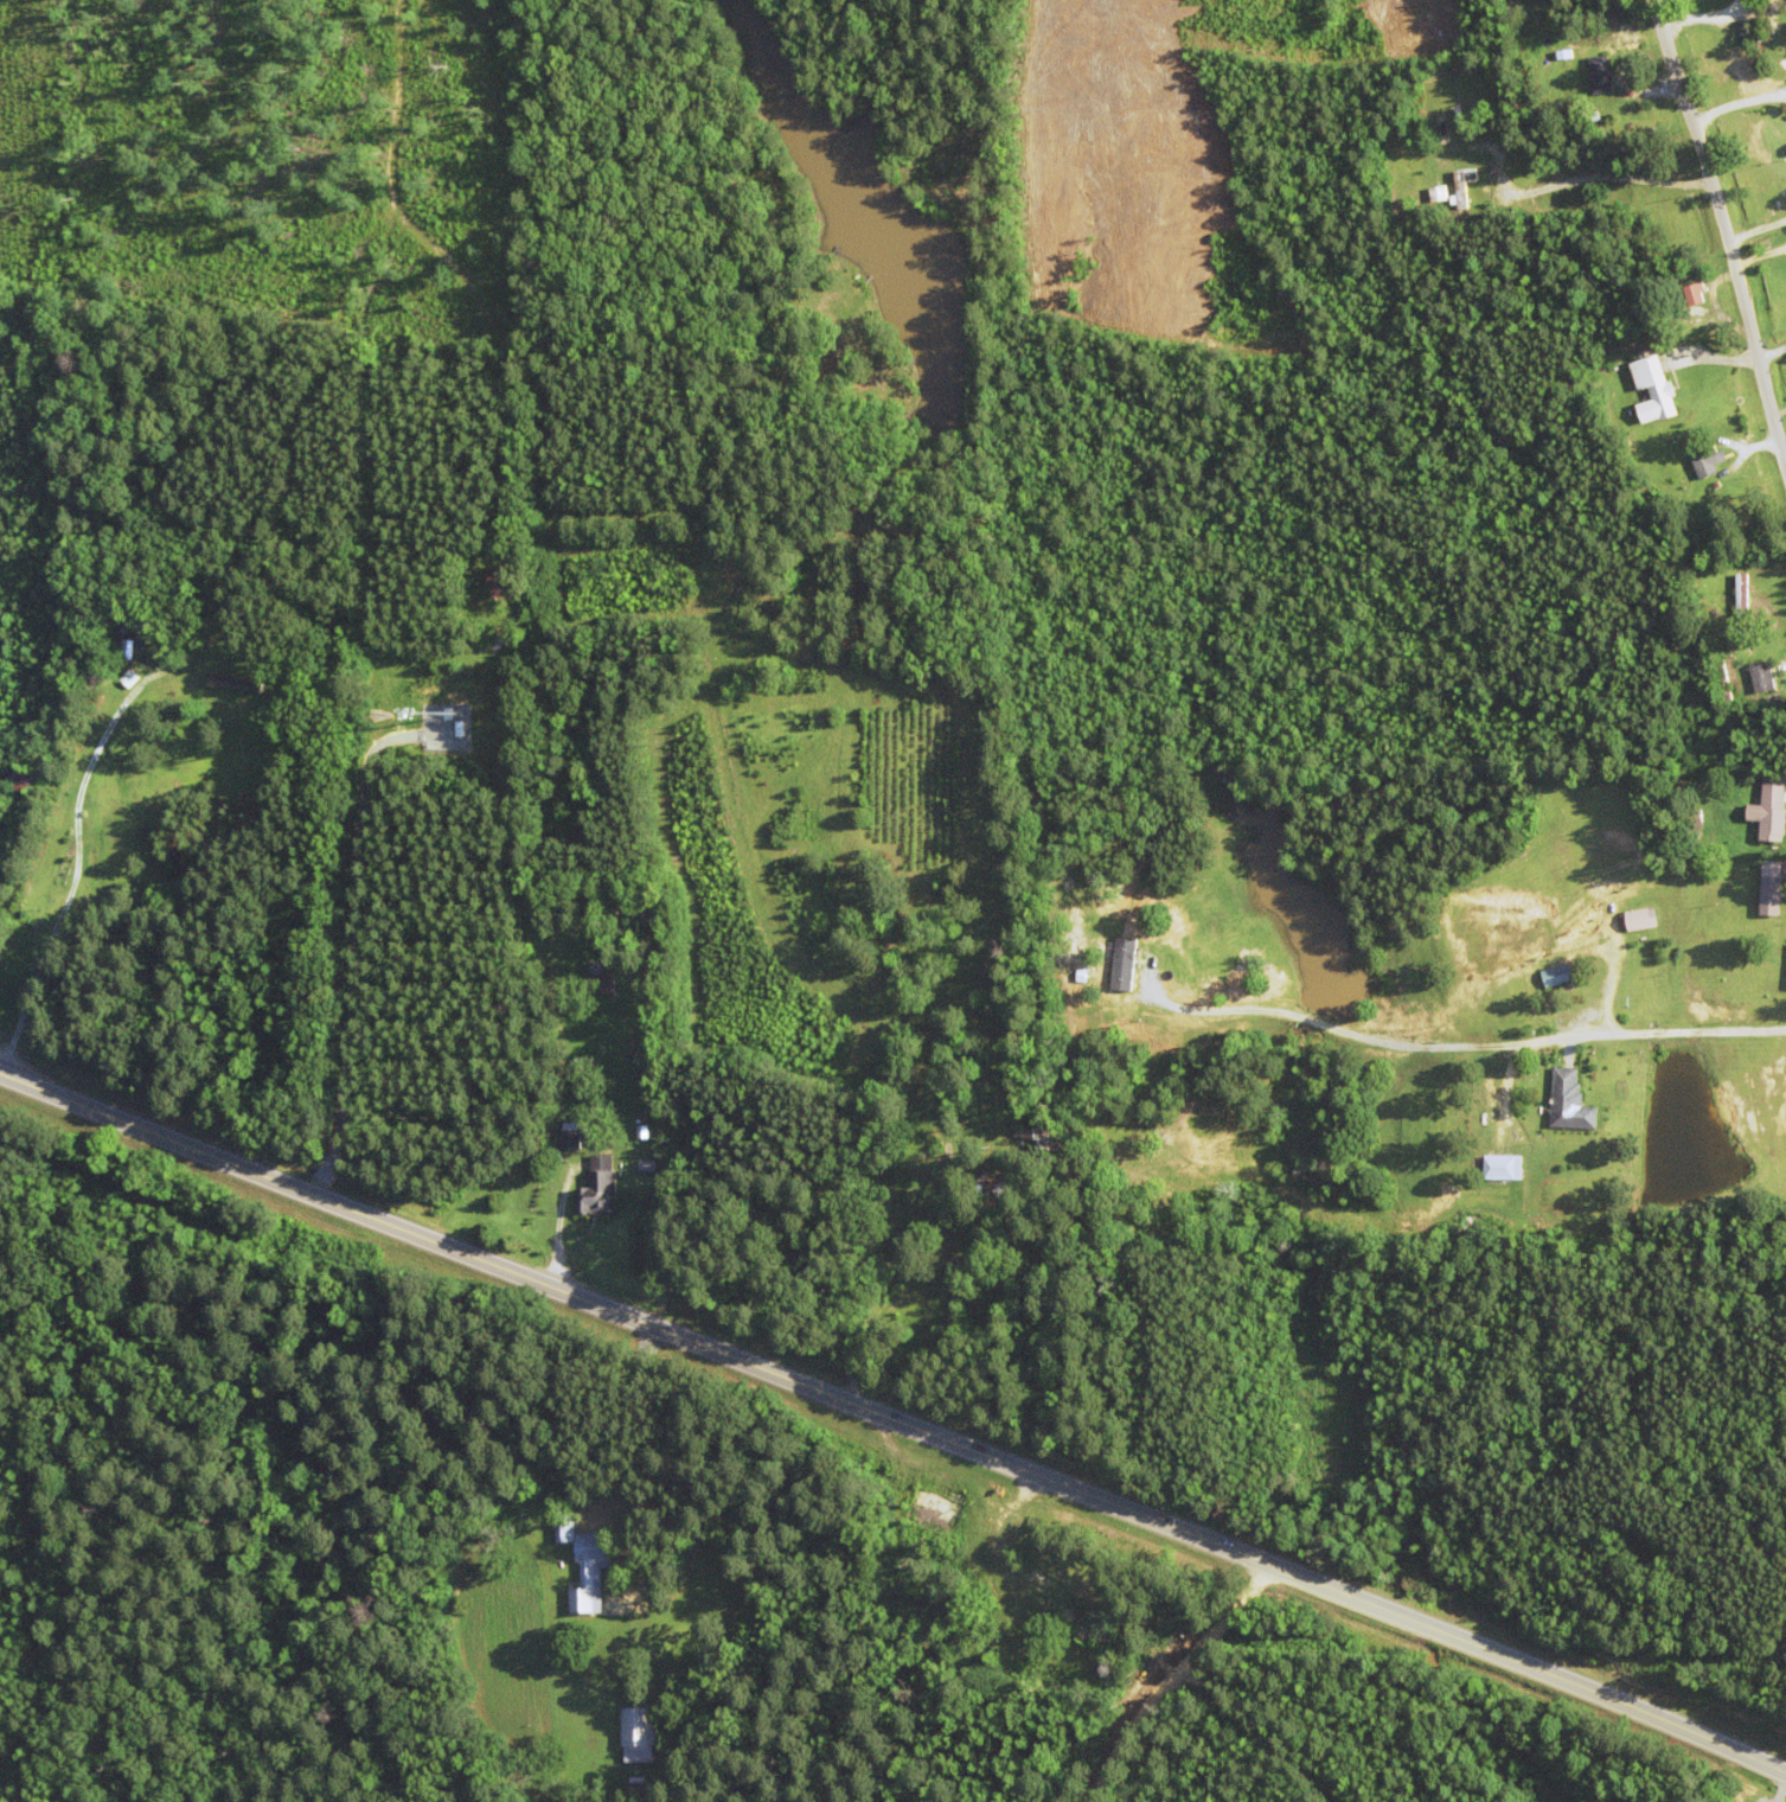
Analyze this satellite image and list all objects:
road: (1723, 232)
road: (1772, 353)
road: (895, 1419)
road: (1177, 1680)

